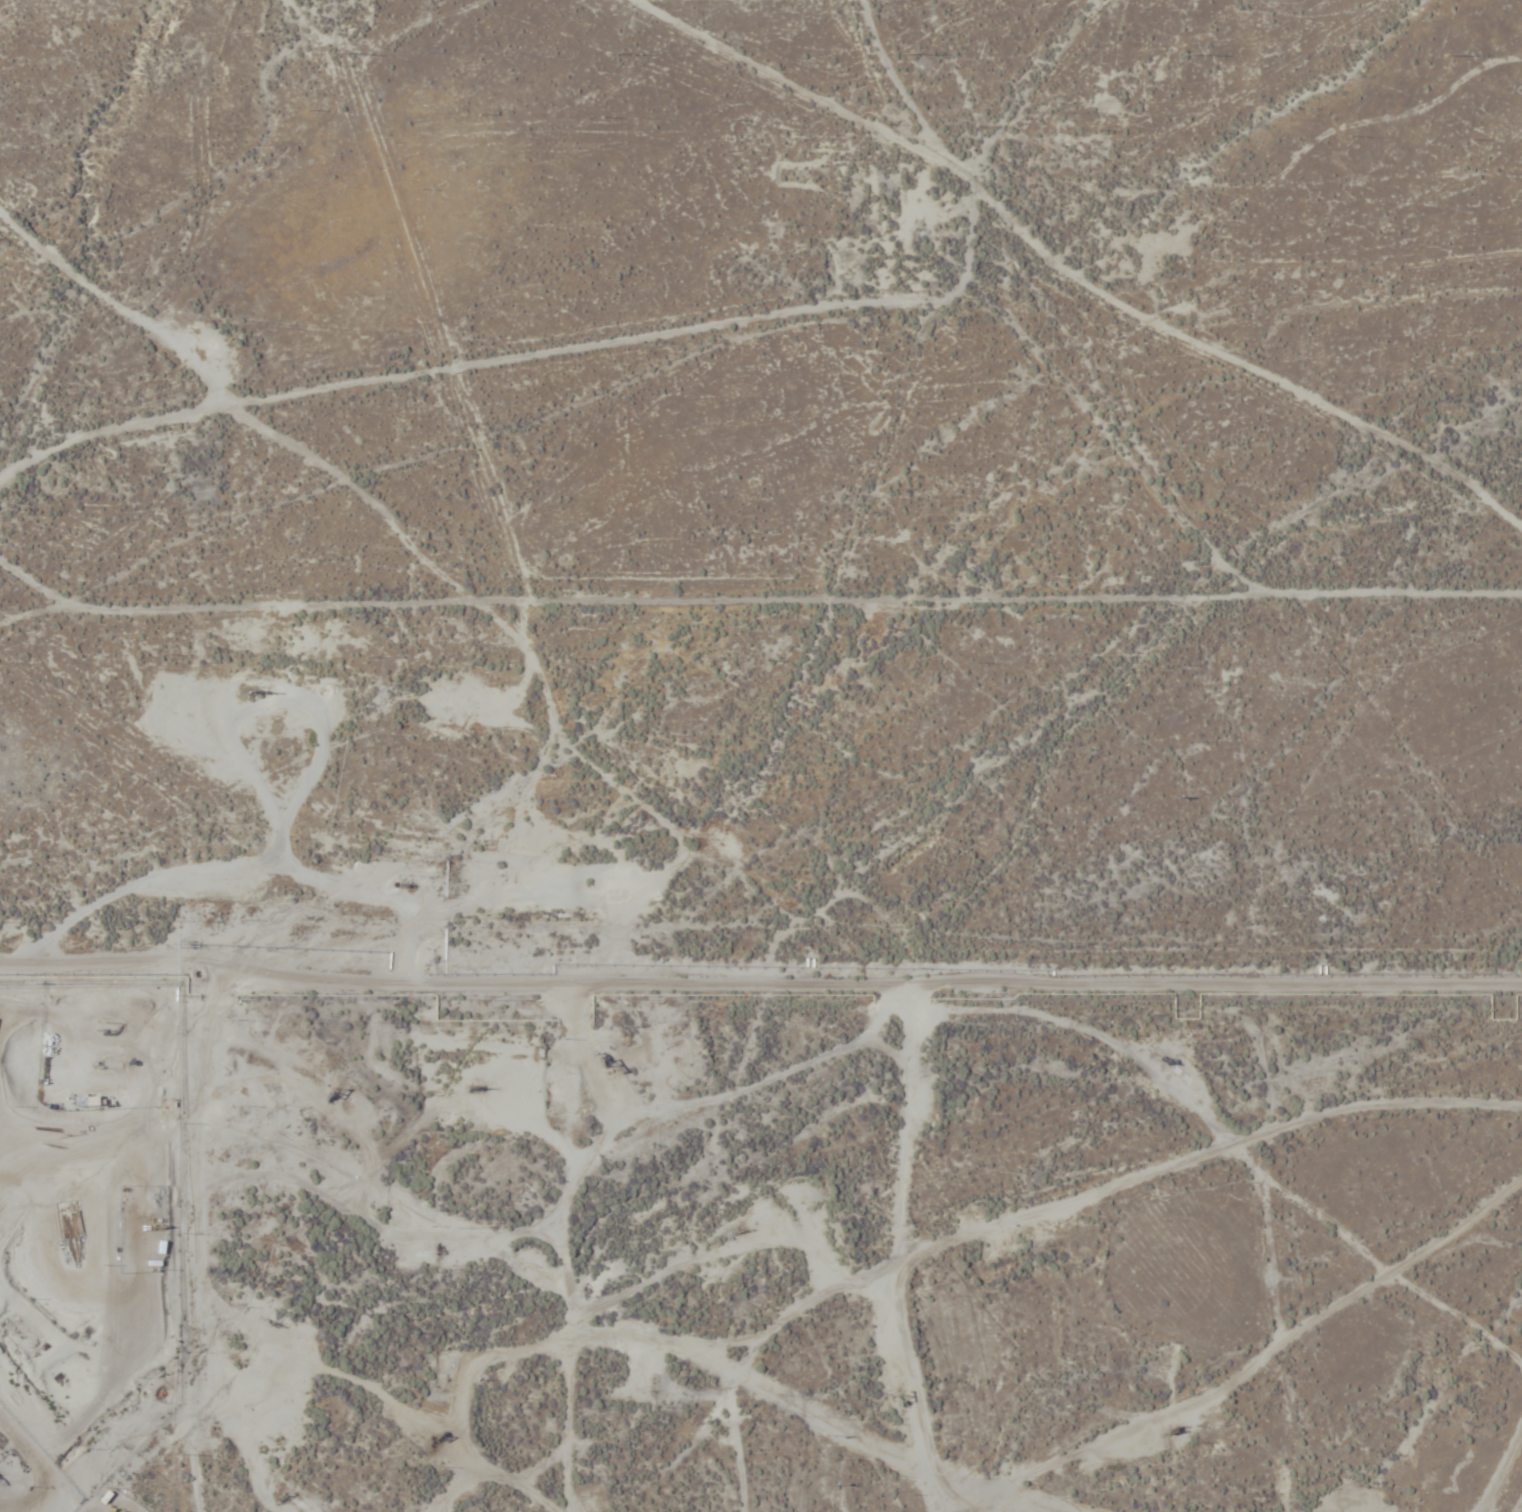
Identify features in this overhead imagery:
road: (1029, 85)
road: (977, 252)
road: (487, 365)
road: (833, 600)
road: (761, 988)
building: (69, 1232)
road: (497, 1482)

